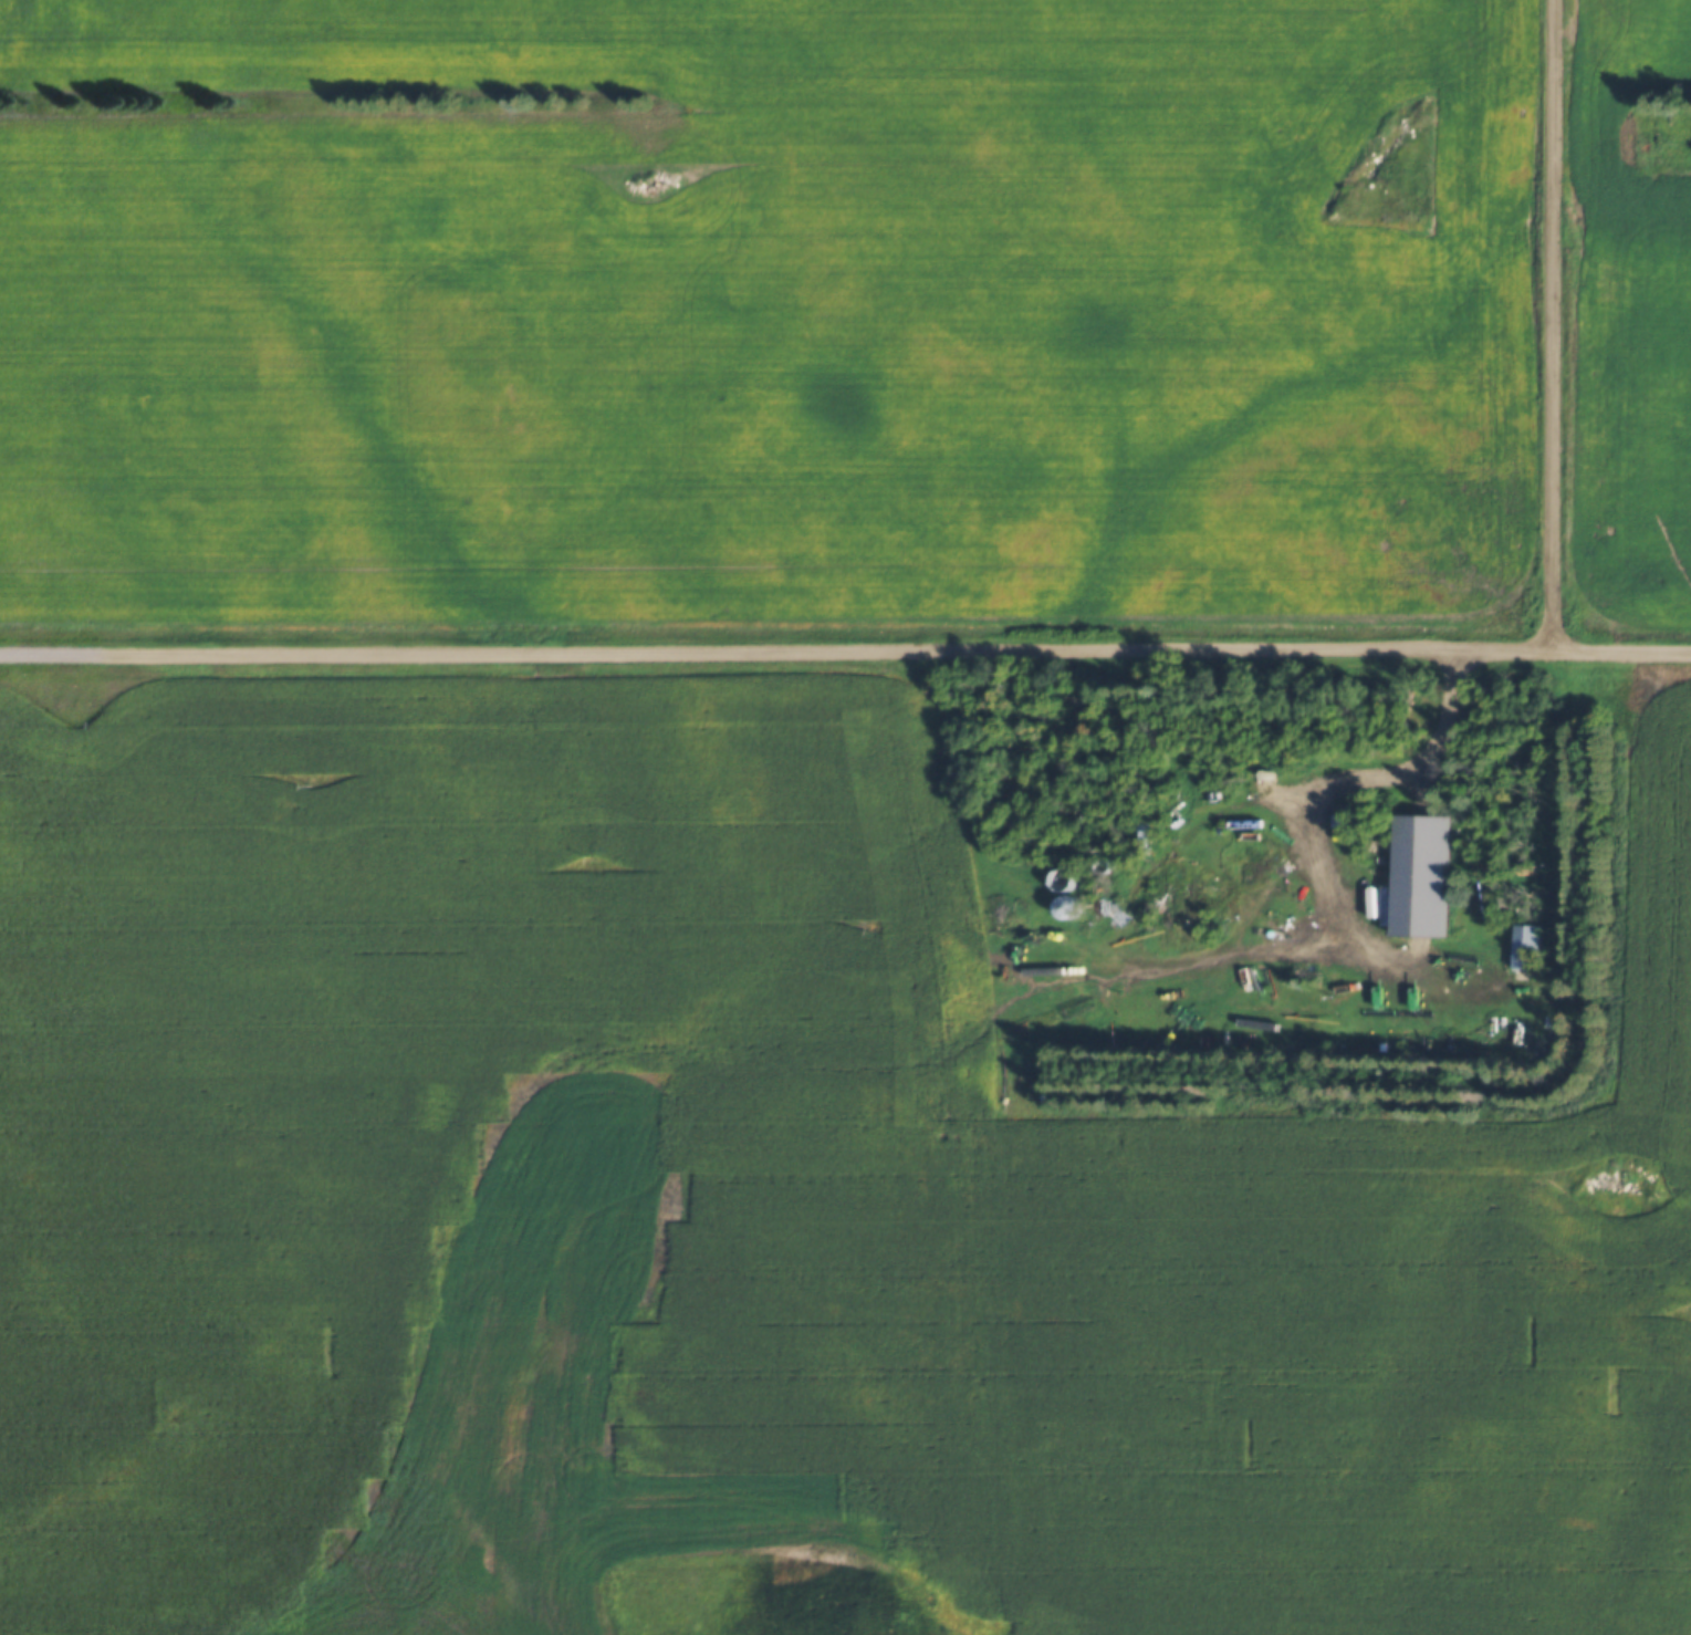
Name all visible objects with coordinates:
road: (1556, 323)
road: (845, 647)
building: (1344, 813)
building: (1142, 834)
road: (1314, 836)
building: (1064, 879)
building: (1103, 891)
building: (1191, 905)
building: (1527, 946)
road: (985, 1138)

